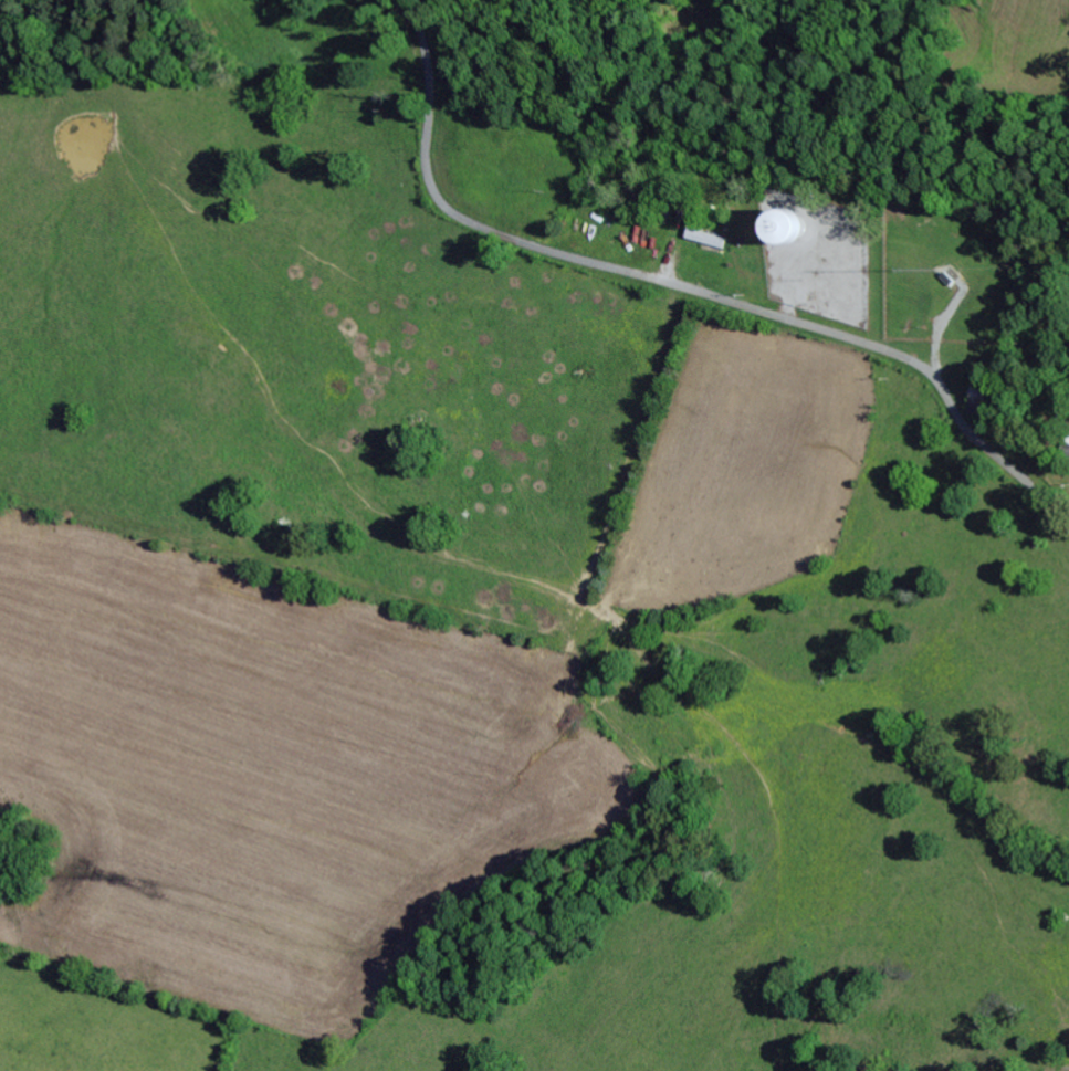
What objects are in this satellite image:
building: (702, 235)
road: (681, 288)

